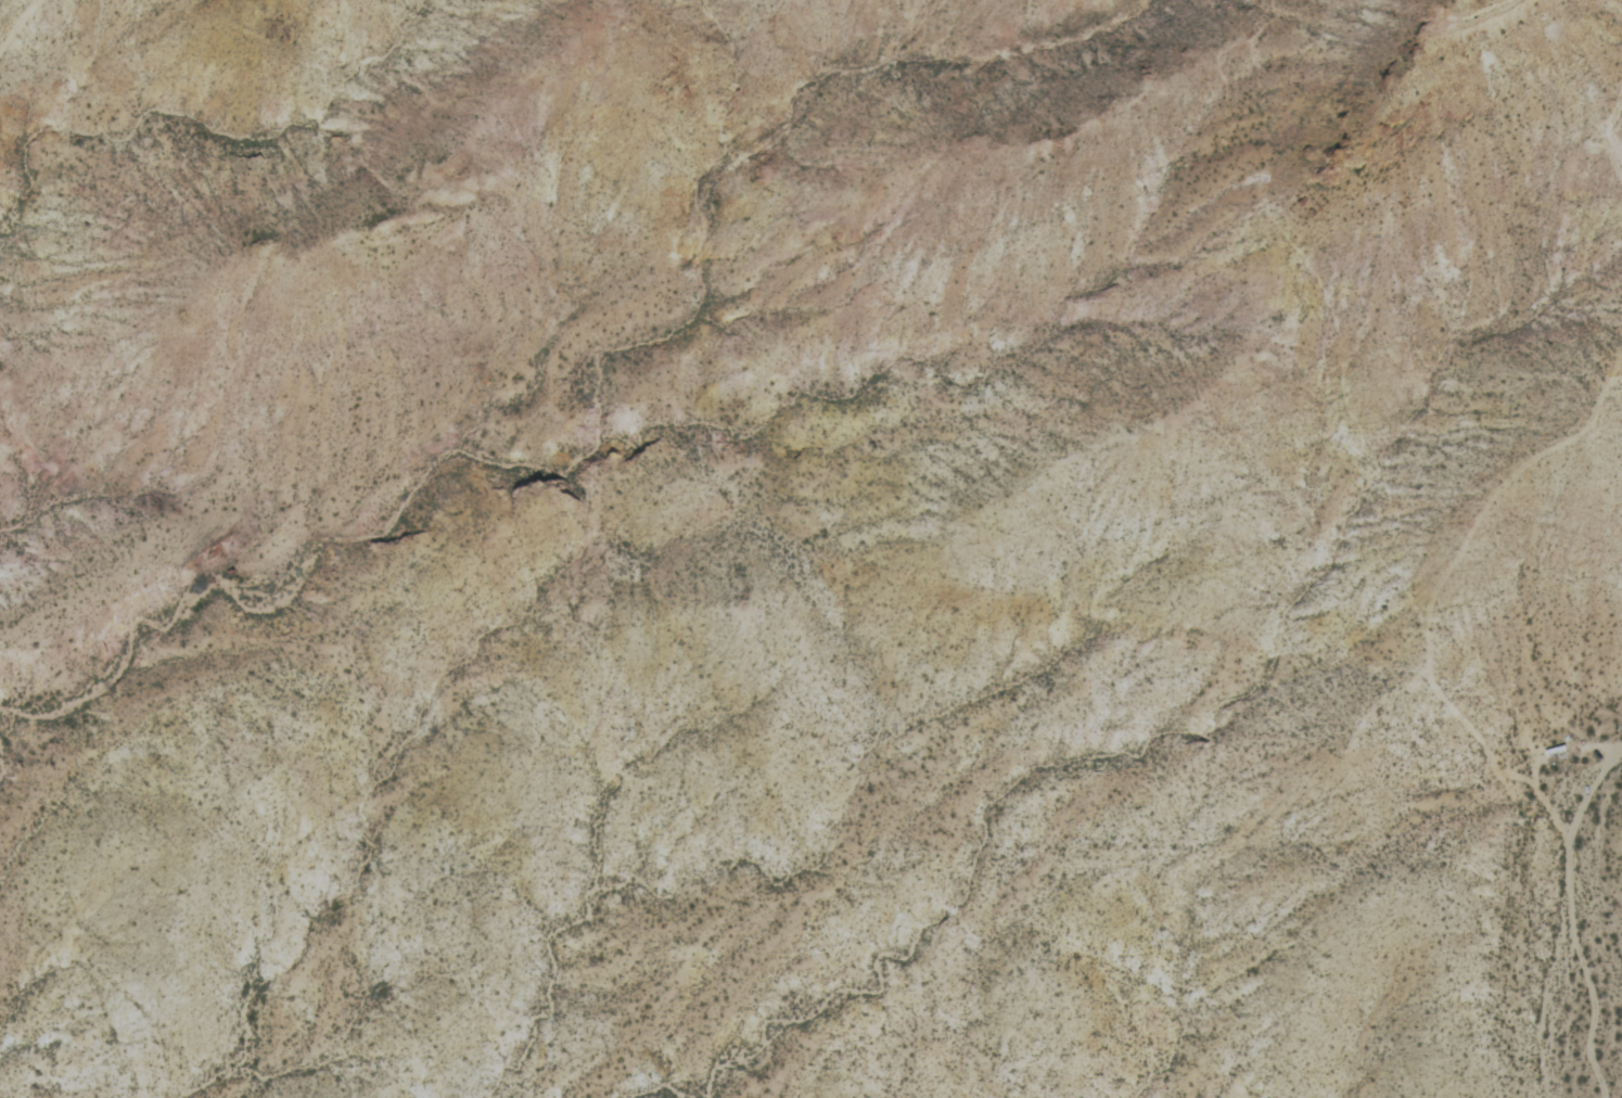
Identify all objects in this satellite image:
road: (1508, 8)
road: (24, 20)
road: (1549, 677)
road: (1570, 986)

